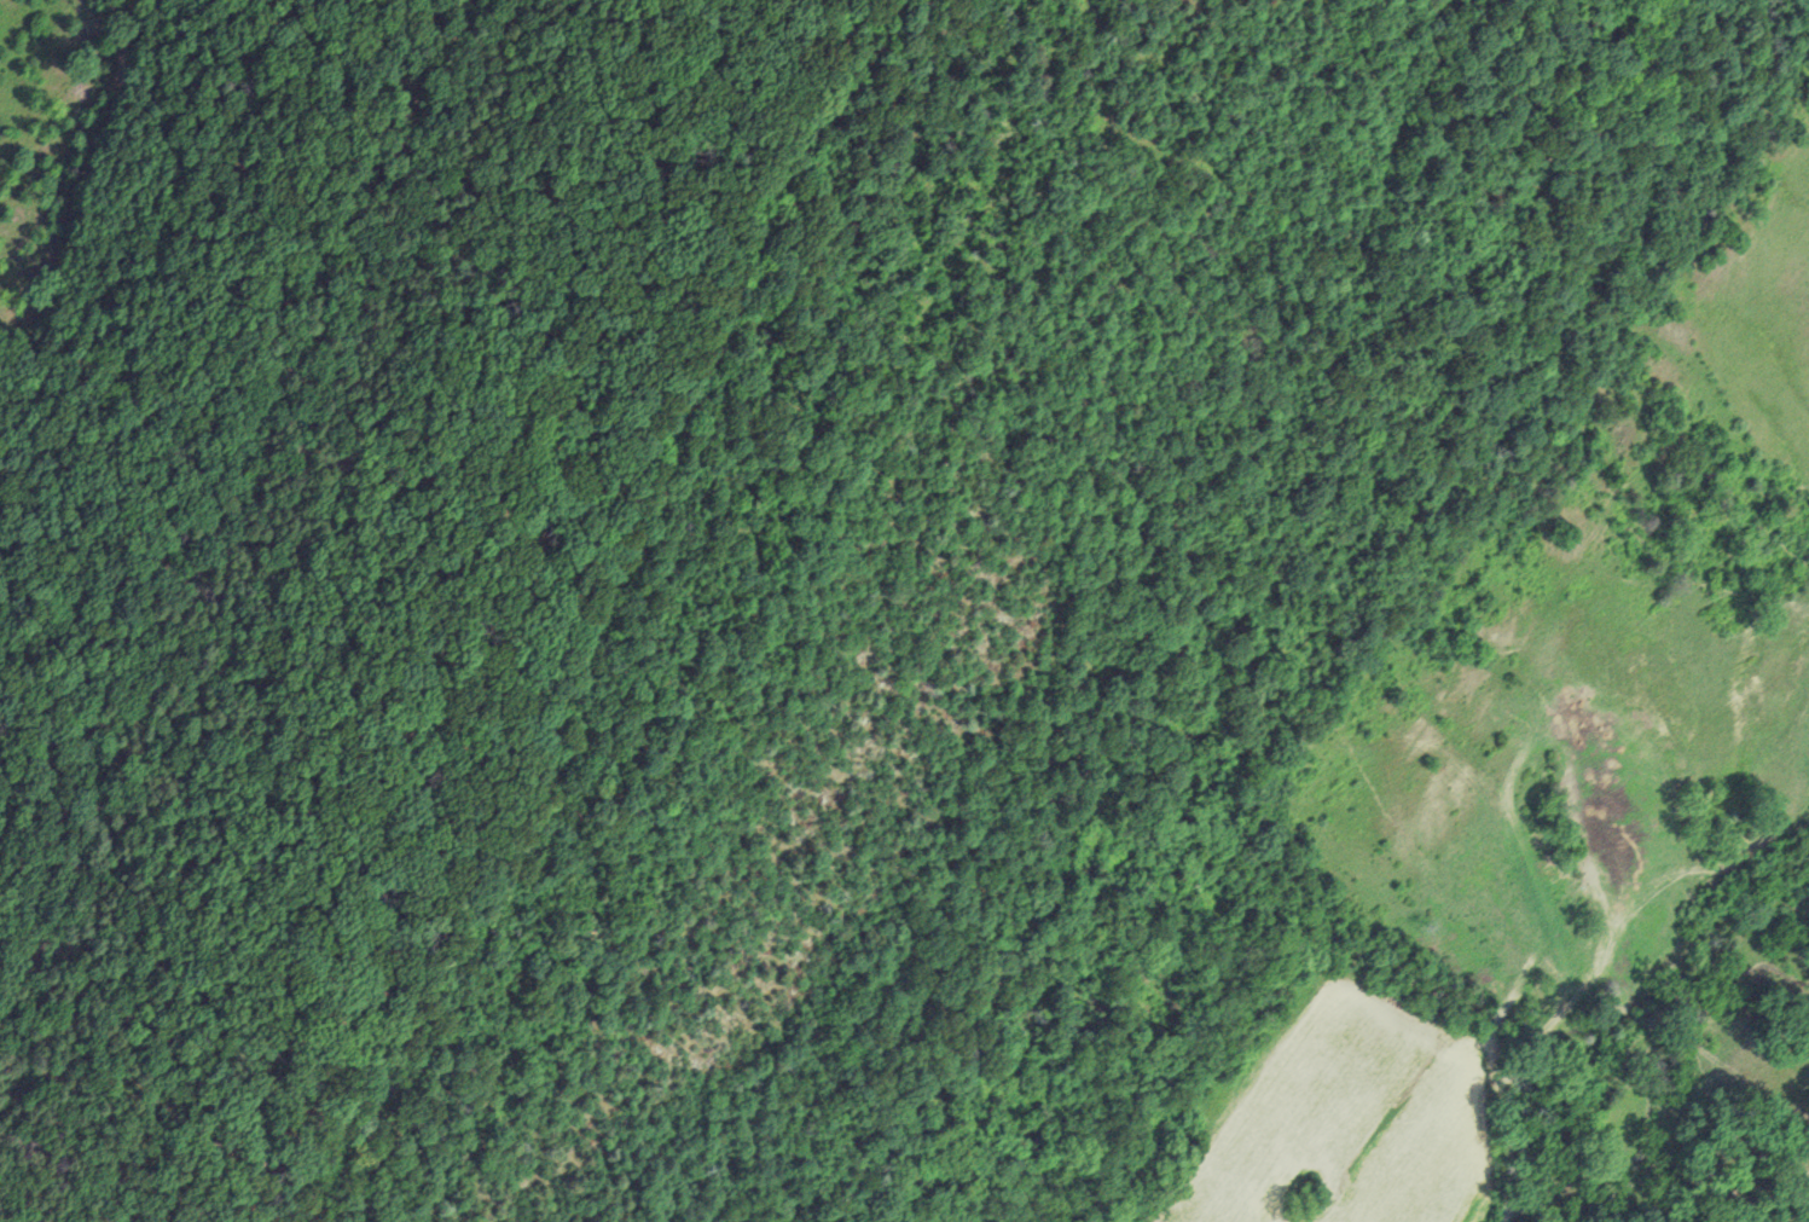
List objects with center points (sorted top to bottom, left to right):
road: (1504, 1101)

